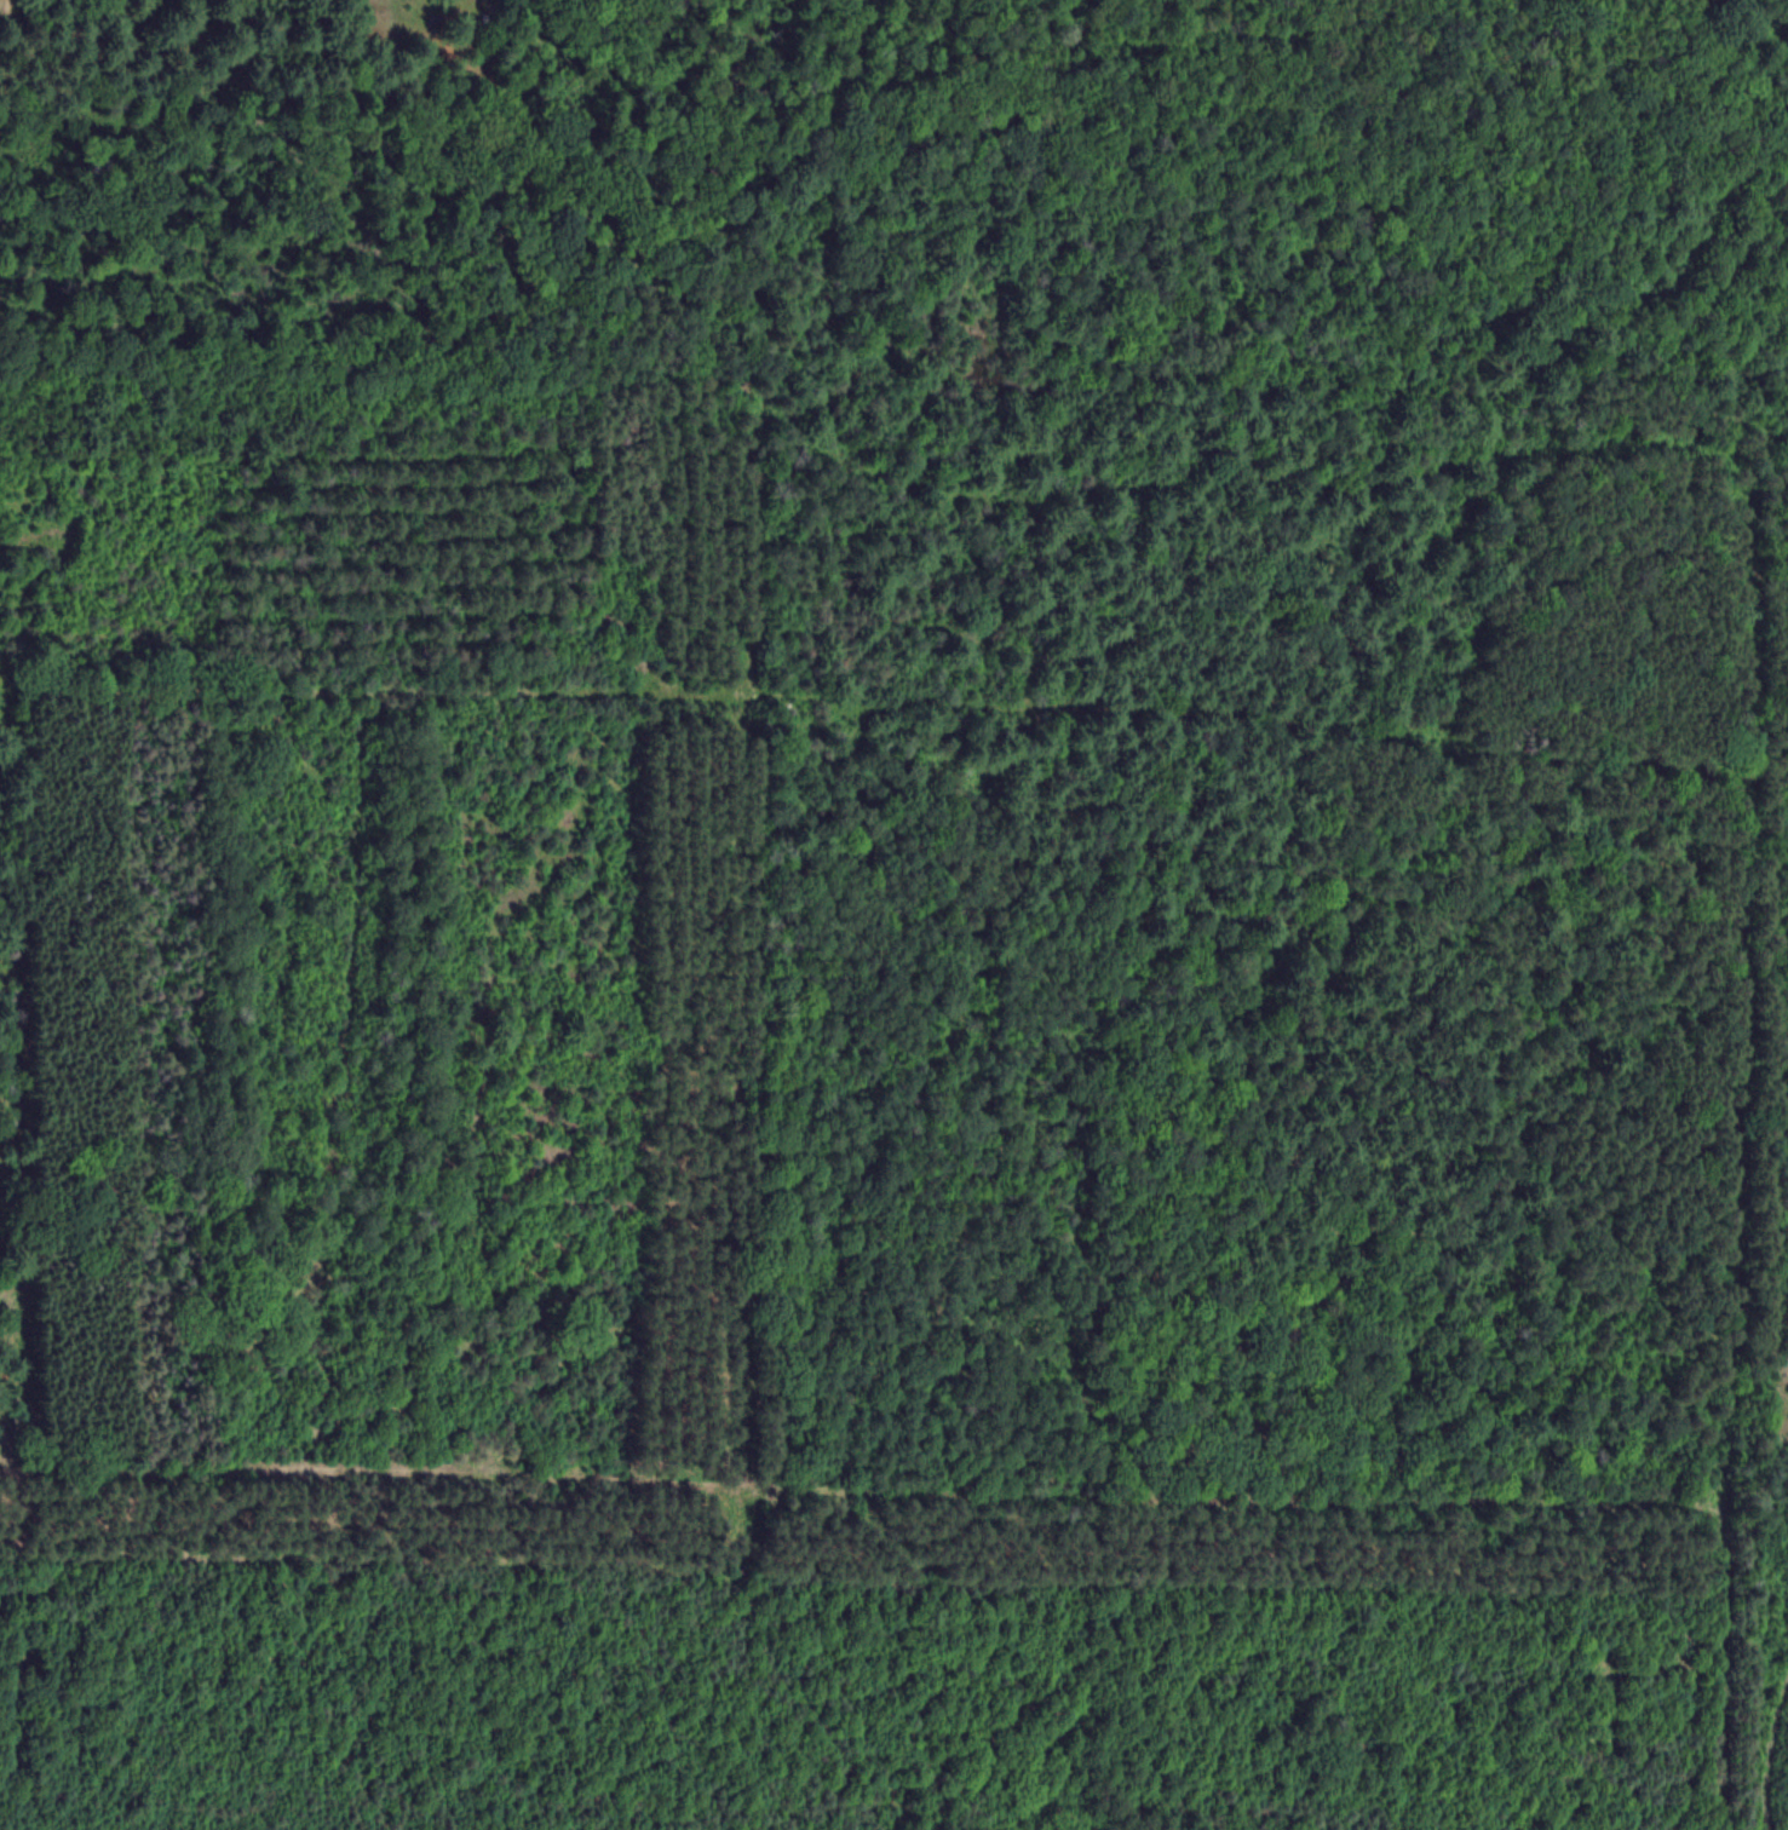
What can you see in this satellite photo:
building: (1786, 1342)

